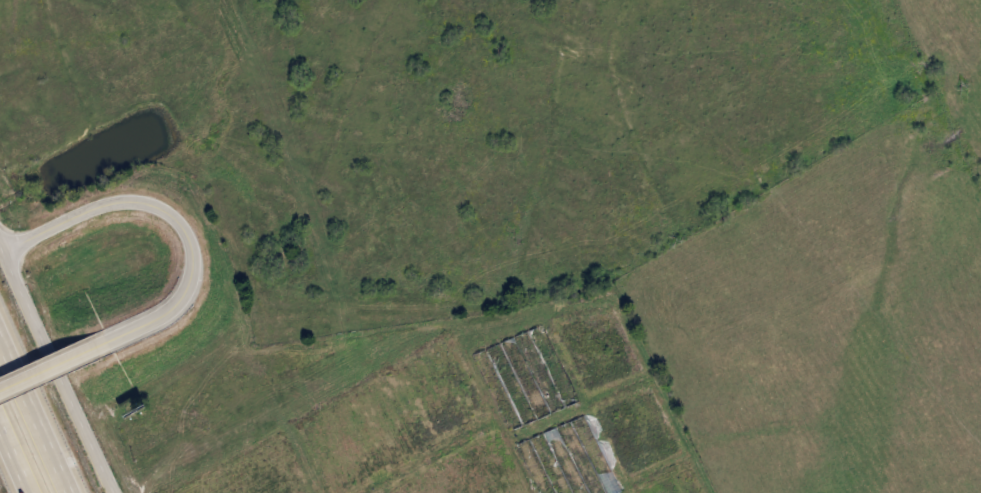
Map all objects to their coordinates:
road: (172, 210)
road: (0, 244)
road: (55, 364)
building: (552, 365)
road: (57, 369)
building: (510, 383)
road: (36, 412)
building: (567, 460)
road: (12, 464)

